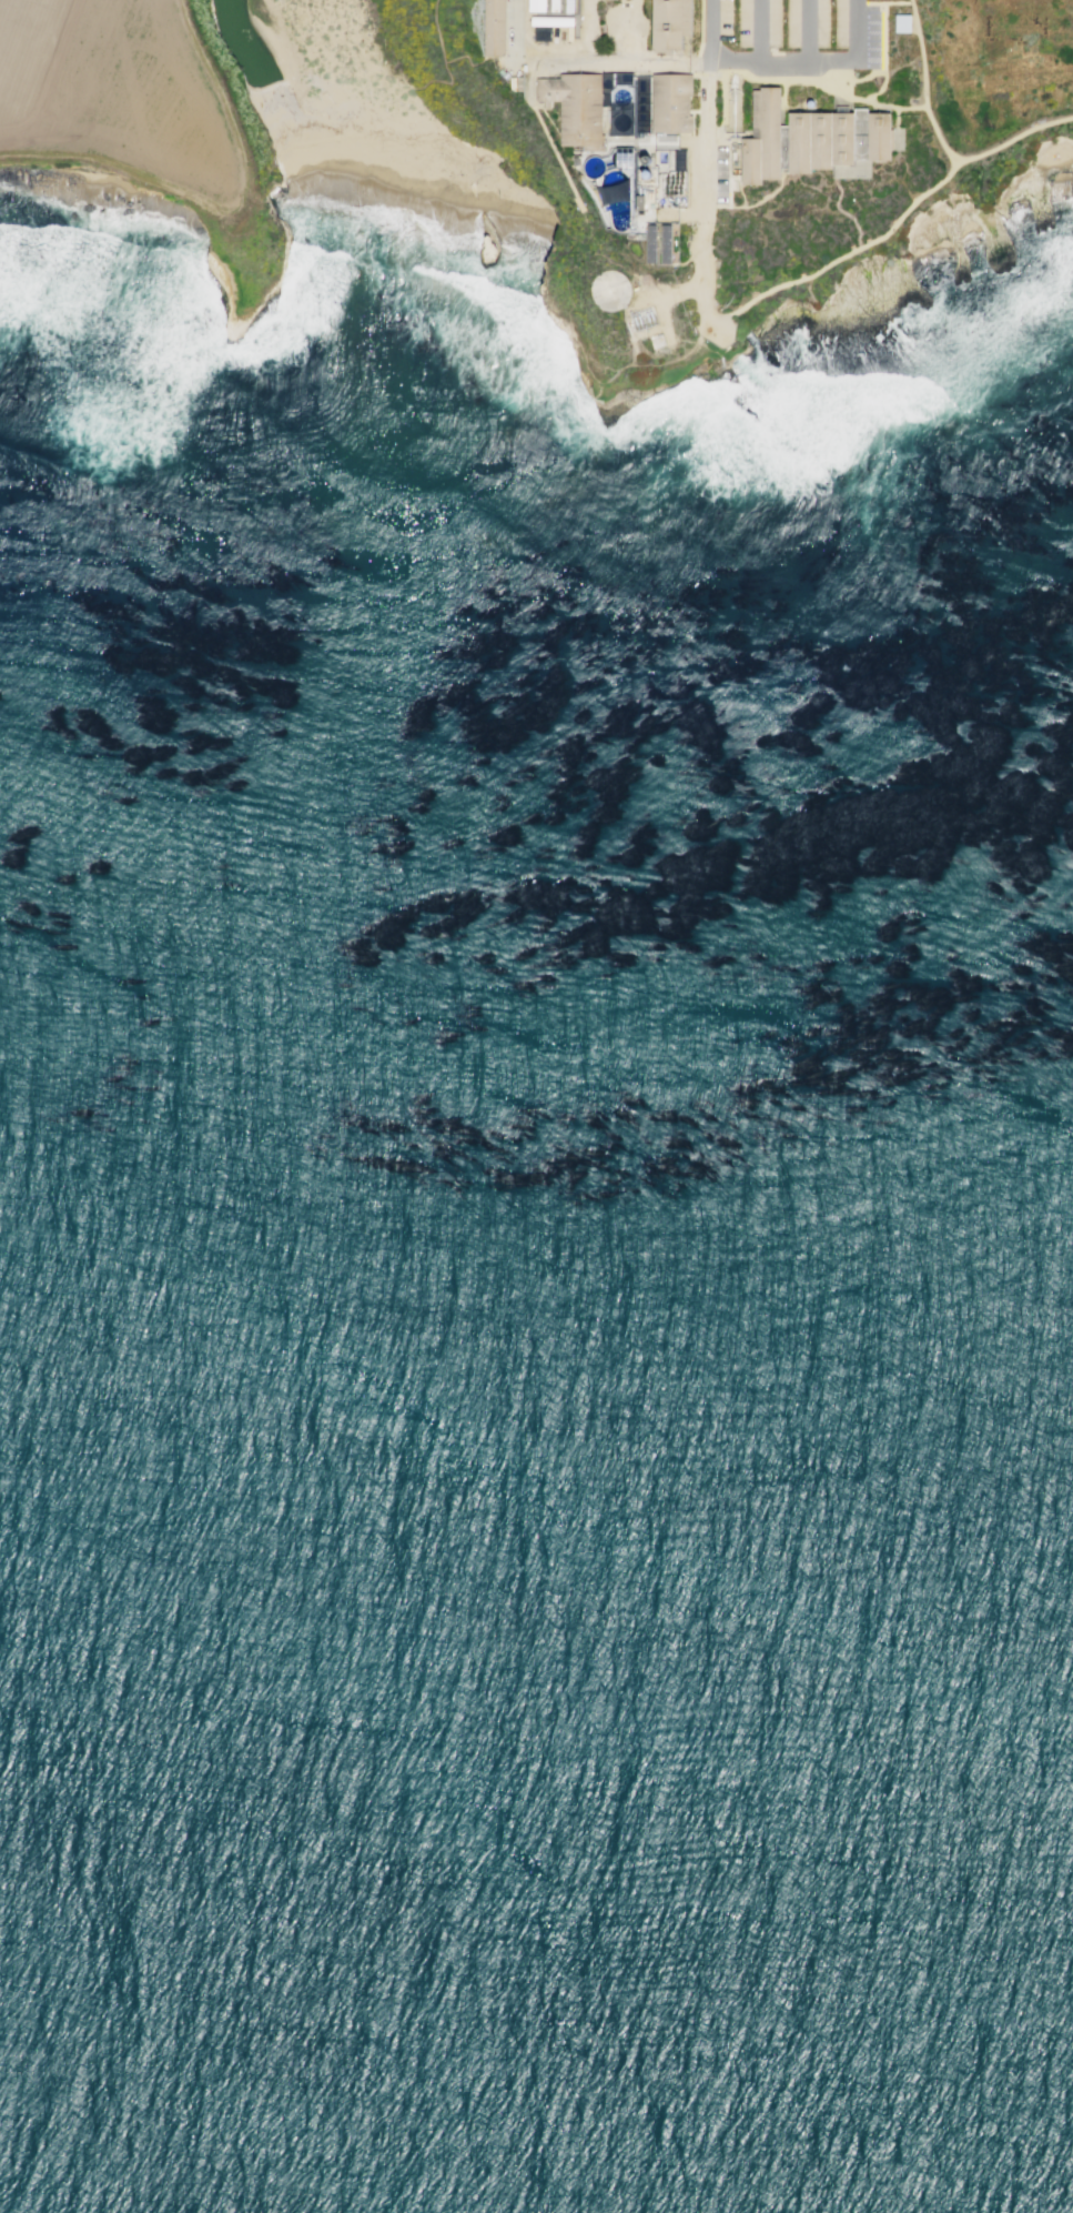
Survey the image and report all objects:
road: (869, 2)
building: (535, 4)
building: (554, 4)
building: (568, 6)
building: (599, 10)
building: (550, 21)
building: (670, 22)
building: (901, 22)
building: (495, 26)
road: (710, 31)
road: (760, 31)
road: (809, 31)
parking lot: (797, 36)
road: (857, 51)
road: (587, 62)
road: (762, 62)
road: (853, 79)
building: (515, 83)
road: (924, 83)
road: (843, 95)
building: (670, 102)
road: (889, 105)
road: (911, 107)
building: (575, 108)
building: (618, 108)
crop: (111, 111)
building: (812, 138)
road: (143, 148)
building: (678, 160)
road: (870, 168)
building: (637, 172)
parking lot: (719, 173)
building: (611, 183)
road: (701, 195)
road: (751, 203)
road: (842, 213)
road: (567, 217)
road: (889, 231)
building: (649, 243)
building: (665, 243)
water tower: (609, 289)

